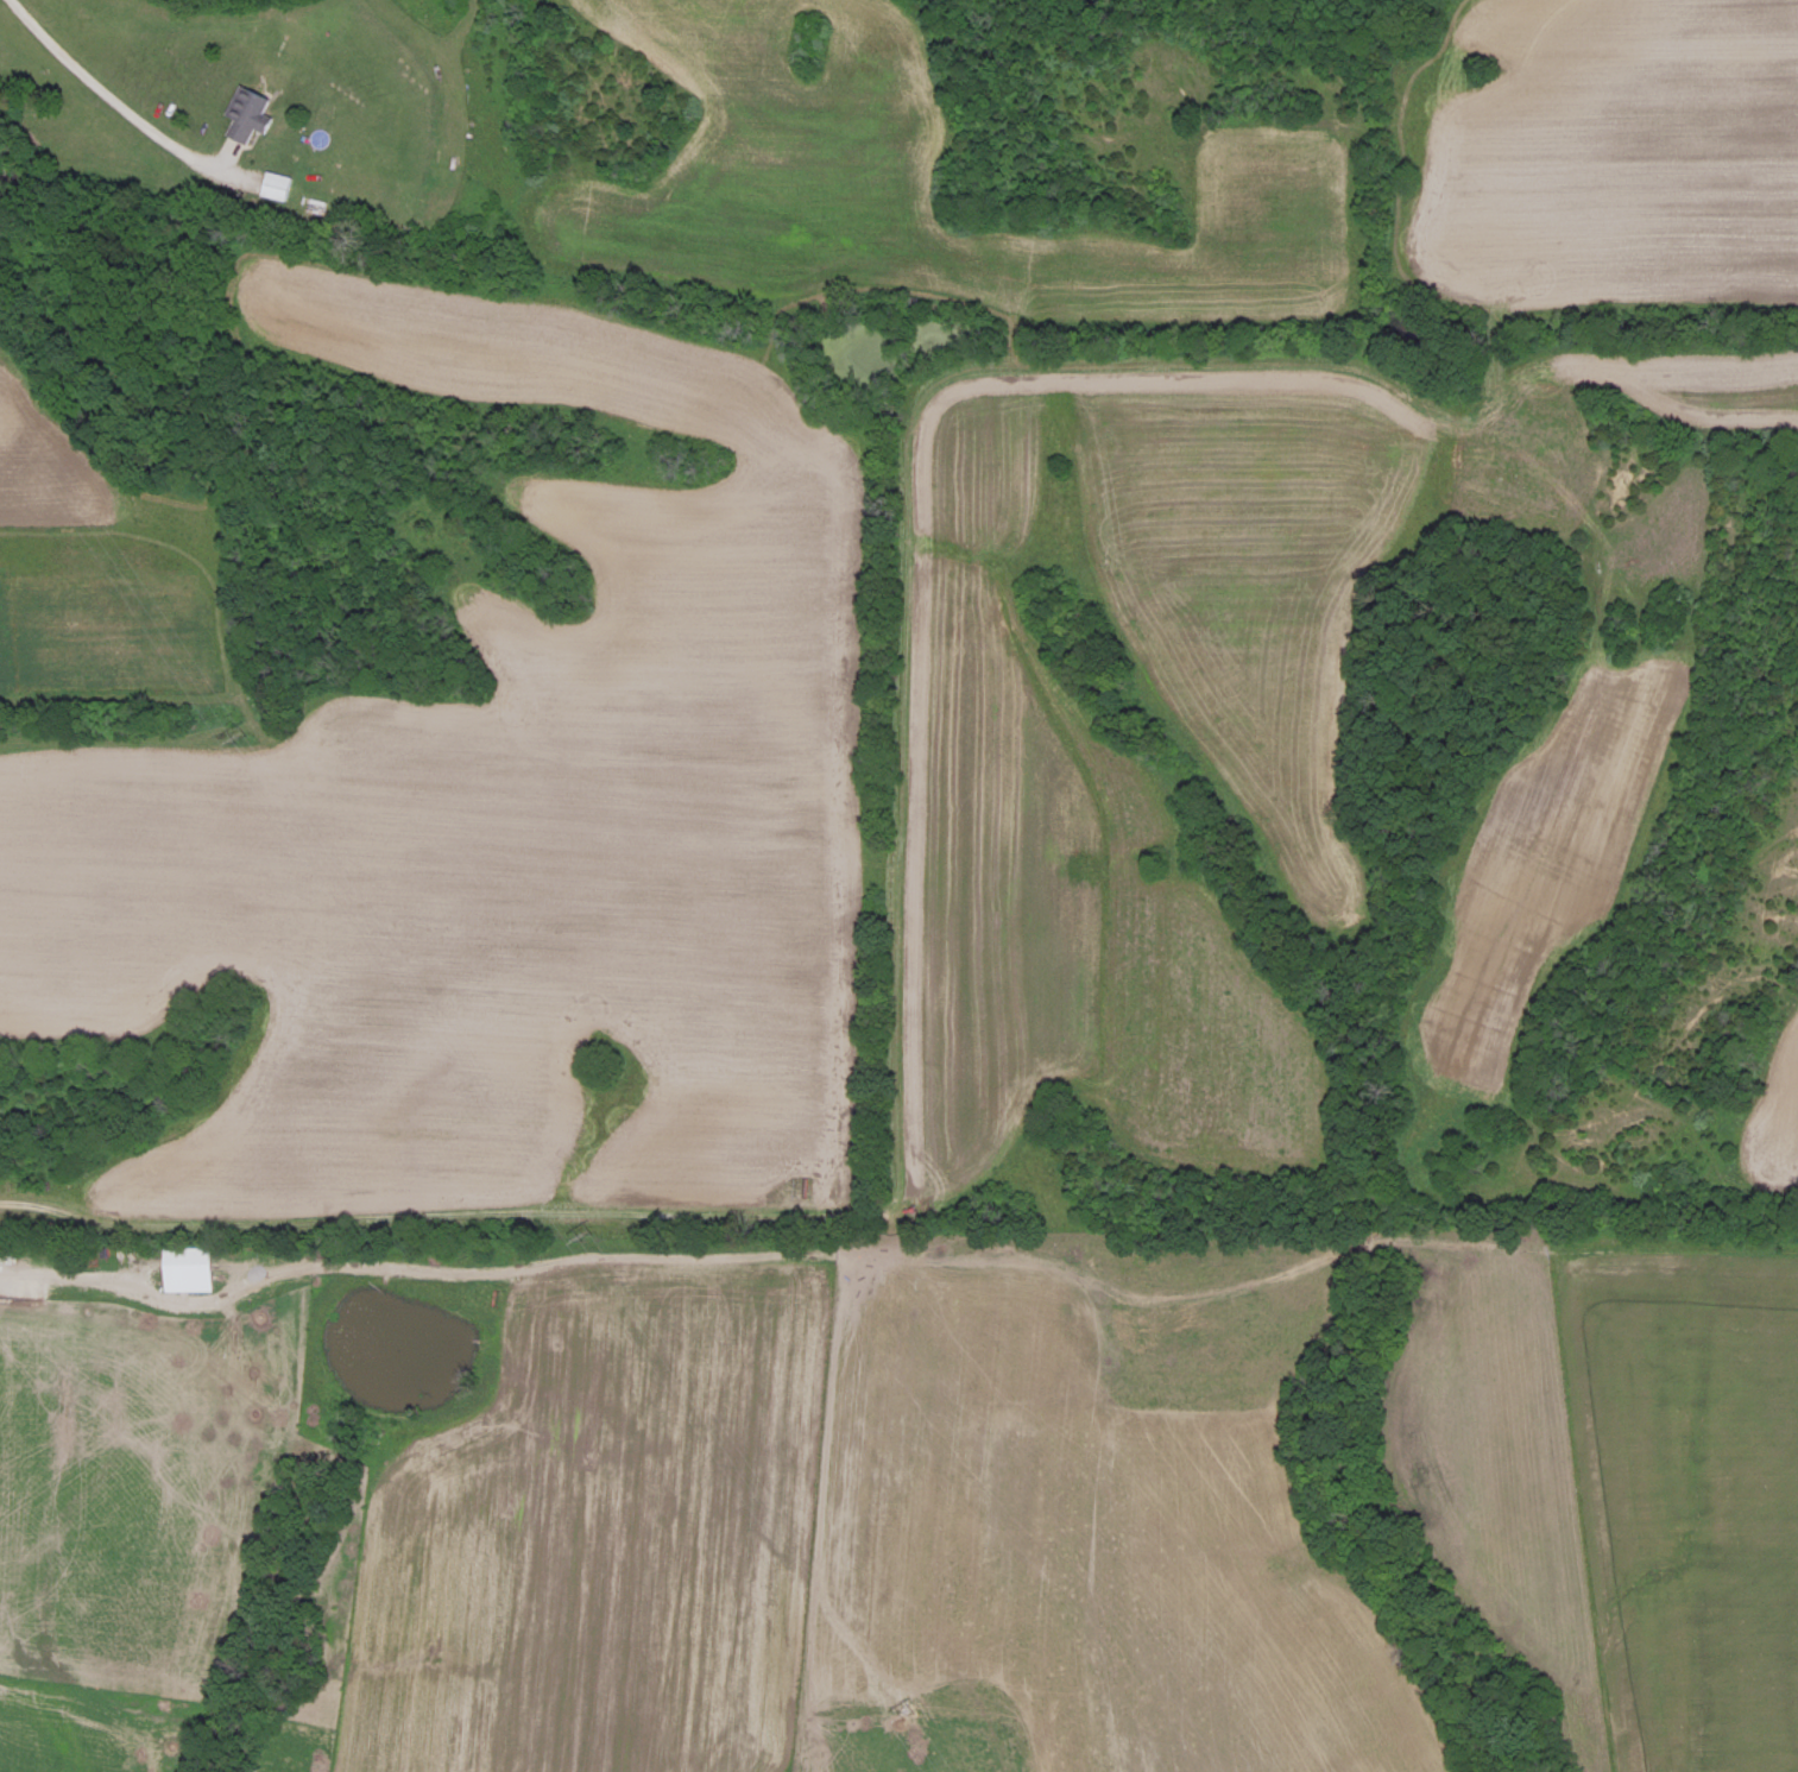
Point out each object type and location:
road: (106, 93)
building: (247, 112)
building: (275, 183)
road: (114, 1224)
road: (68, 1272)

